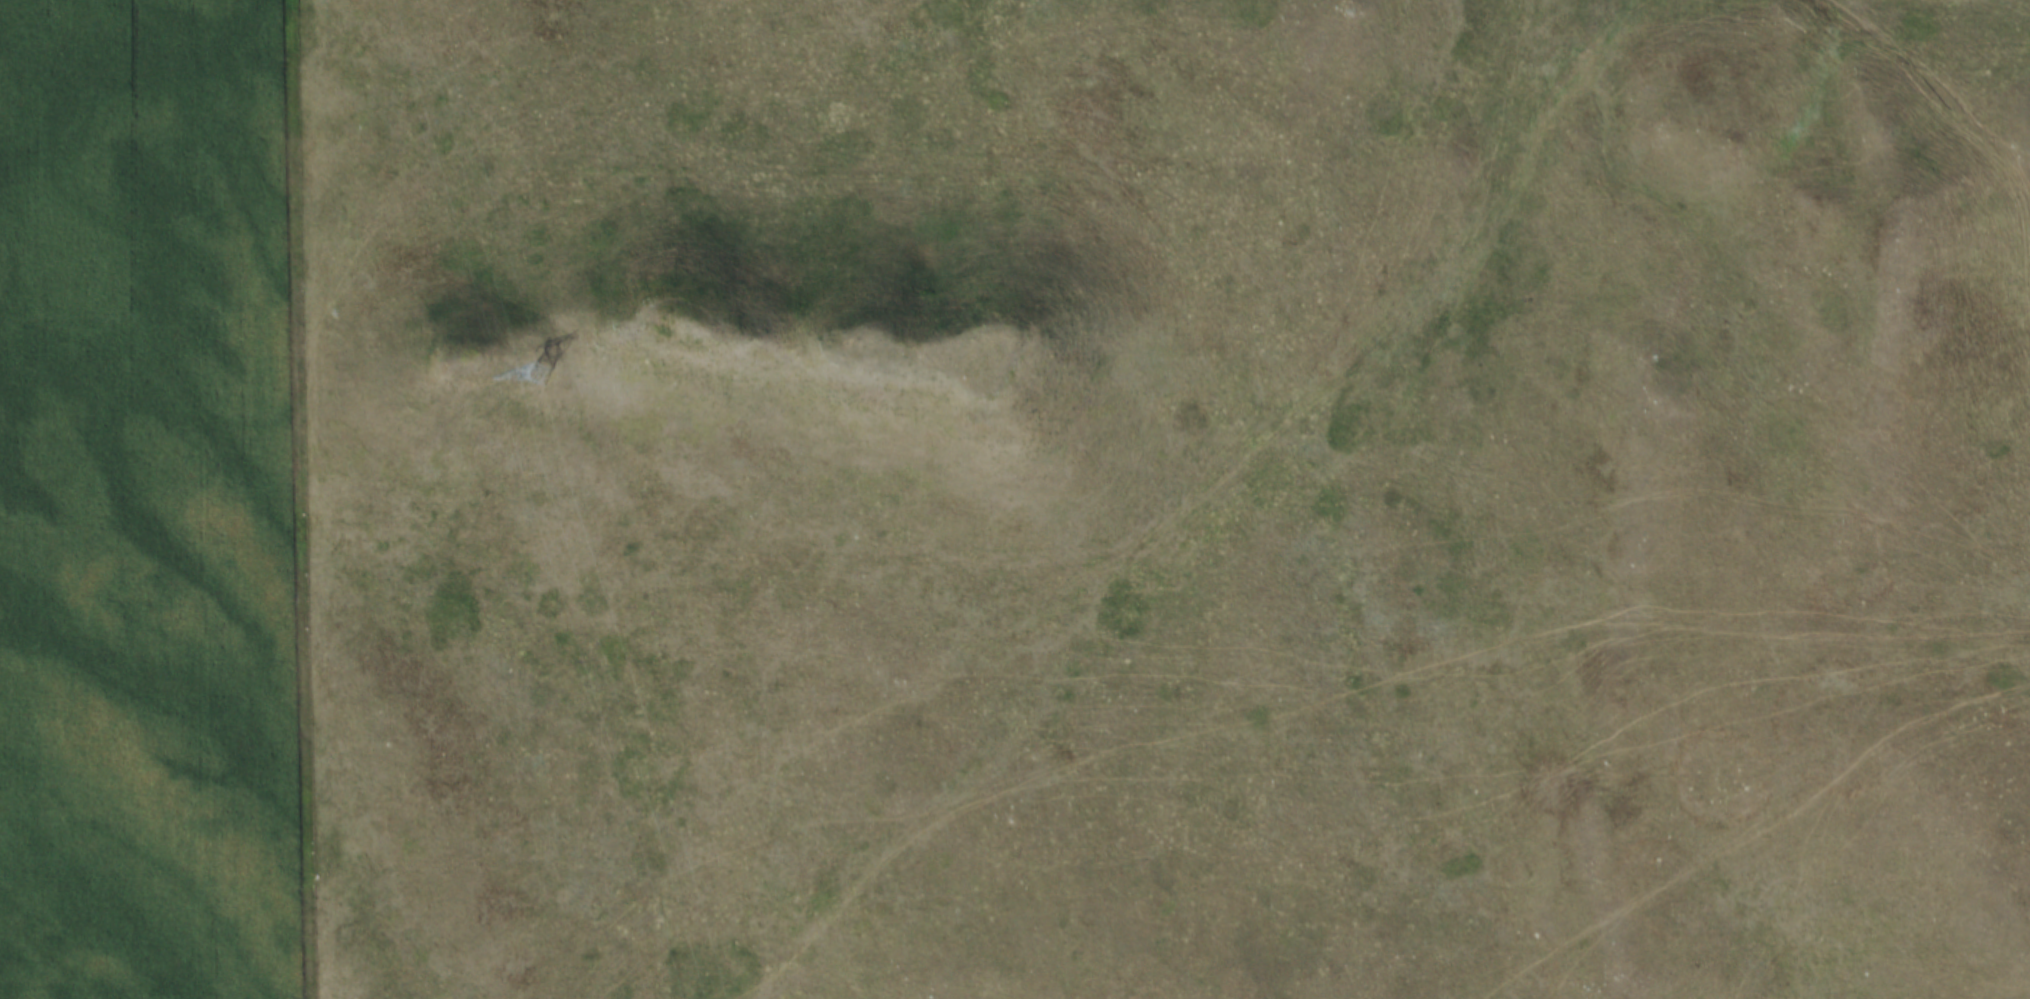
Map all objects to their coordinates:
power tower: (539, 381)

